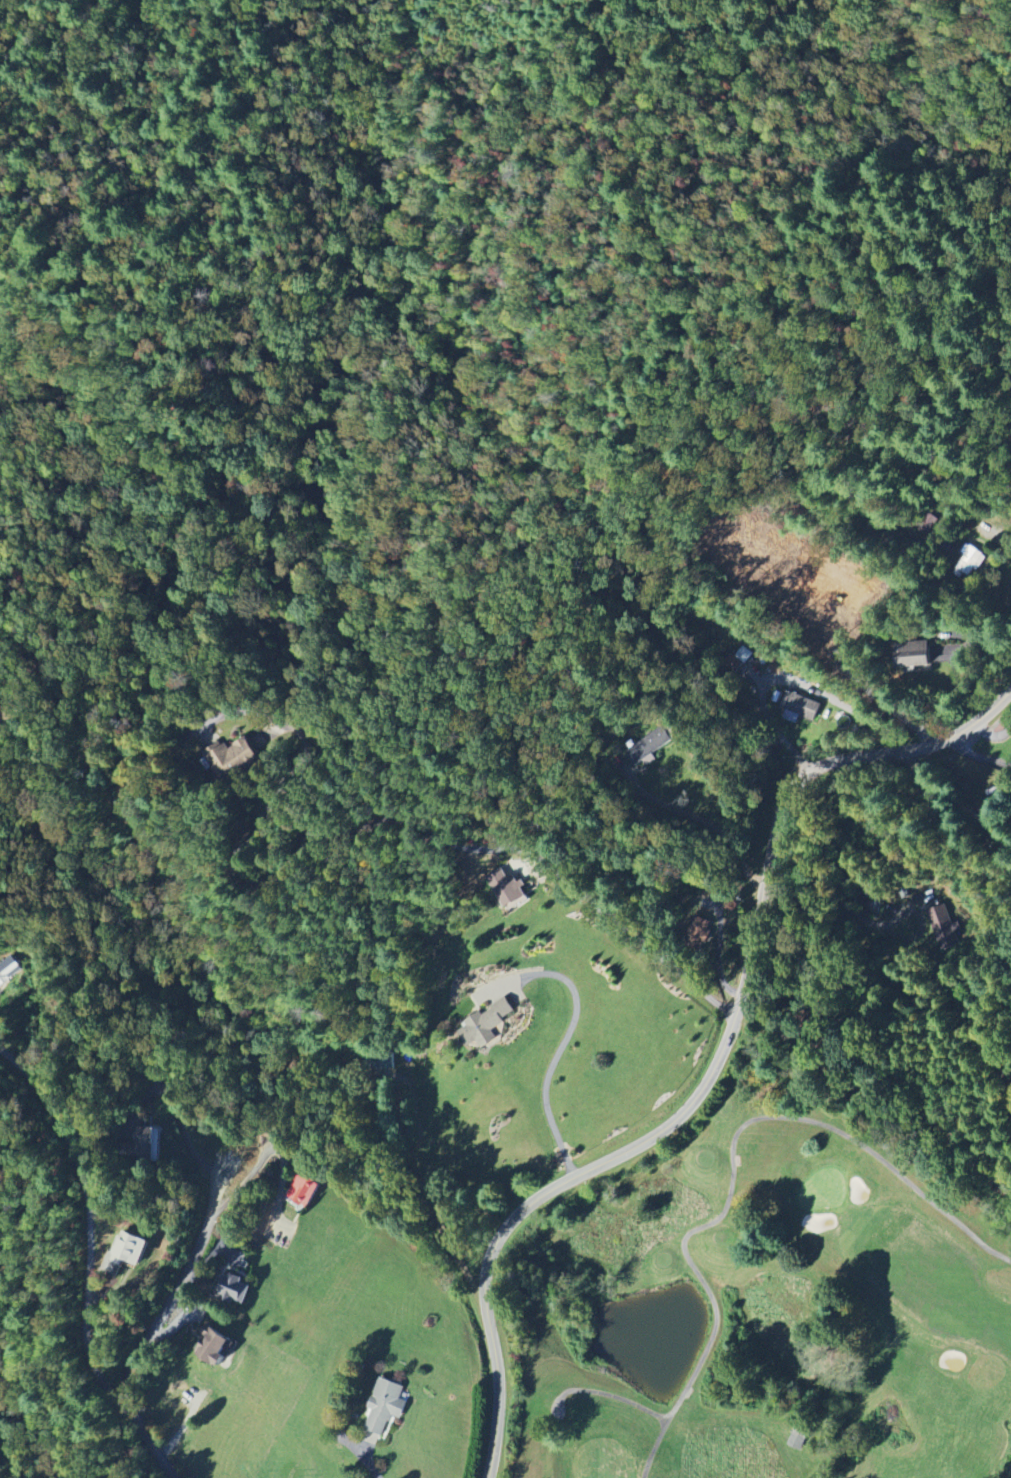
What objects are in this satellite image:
road: (938, 82)
road: (997, 540)
building: (971, 562)
road: (972, 644)
building: (913, 656)
road: (791, 678)
building: (800, 706)
road: (992, 735)
building: (656, 742)
road: (978, 757)
building: (235, 760)
road: (703, 819)
road: (411, 821)
building: (505, 888)
building: (940, 928)
road: (719, 959)
building: (486, 1015)
road: (557, 1051)
road: (719, 1065)
road: (177, 1118)
road: (267, 1151)
building: (304, 1191)
road: (90, 1223)
building: (129, 1250)
building: (233, 1290)
park: (769, 1306)
road: (154, 1326)
building: (214, 1347)
building: (384, 1407)
building: (797, 1440)
road: (368, 1458)

